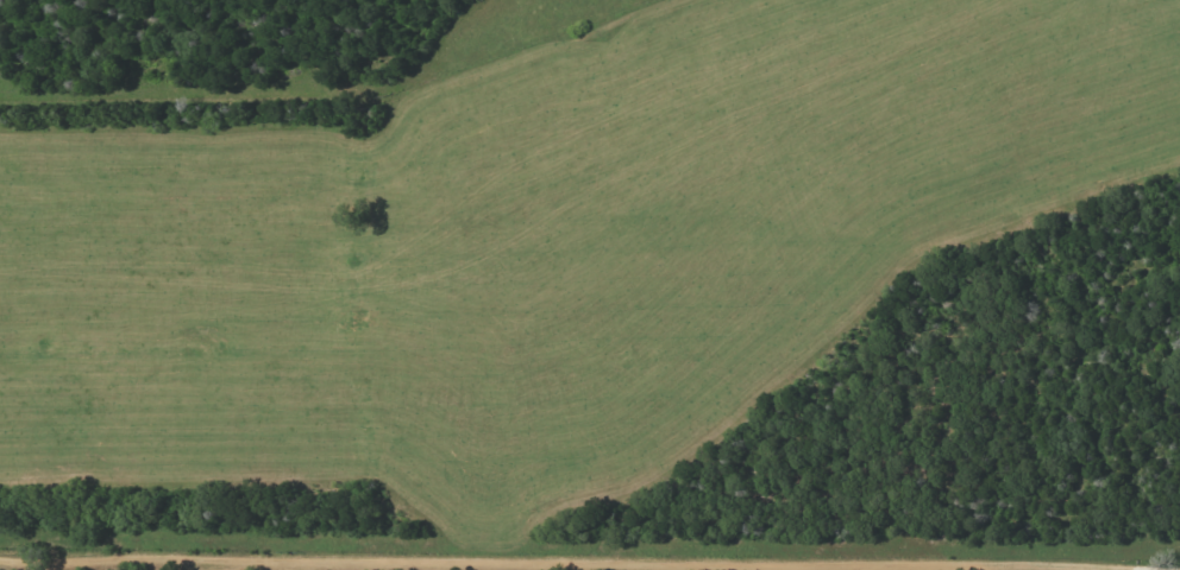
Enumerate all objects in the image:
road: (590, 562)

